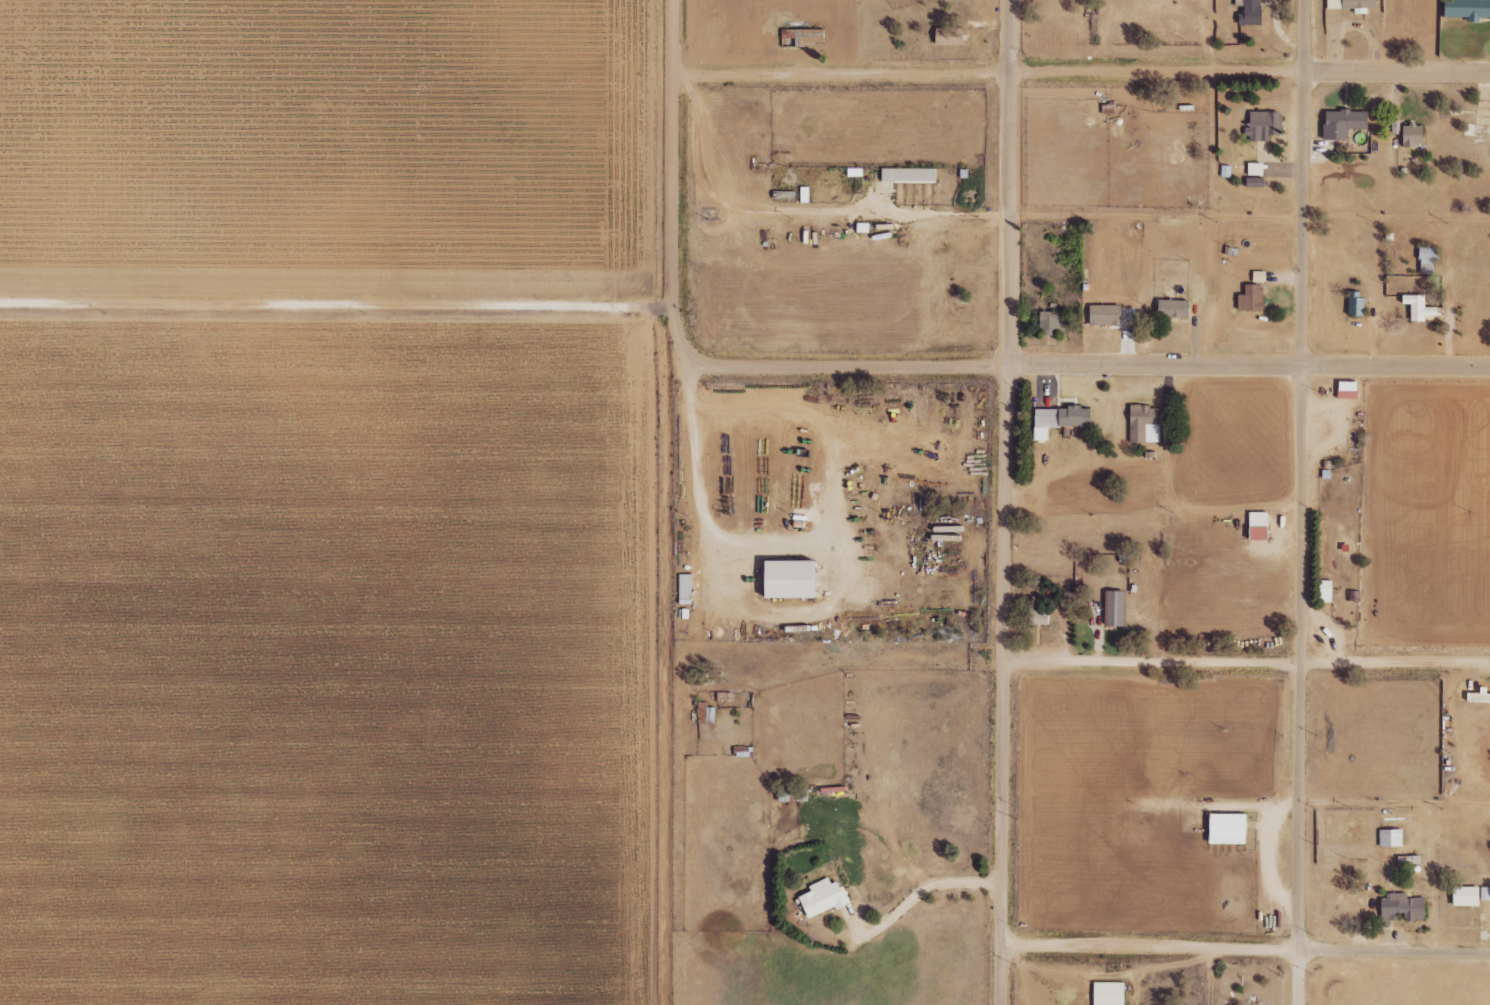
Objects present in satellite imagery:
building: (1354, 5)
building: (1469, 9)
building: (1251, 12)
building: (951, 36)
building: (803, 37)
road: (1082, 69)
building: (1344, 123)
building: (1264, 125)
building: (1414, 135)
building: (1256, 169)
building: (909, 175)
road: (673, 181)
building: (1255, 182)
building: (805, 194)
building: (787, 195)
building: (864, 227)
building: (1428, 260)
building: (1252, 298)
building: (1356, 304)
road: (336, 305)
building: (1420, 307)
building: (1174, 309)
building: (1106, 315)
building: (1053, 321)
road: (1084, 362)
building: (1349, 390)
building: (1061, 420)
building: (1146, 424)
road: (1006, 502)
road: (1300, 502)
building: (1260, 526)
building: (794, 579)
building: (686, 586)
building: (1115, 608)
building: (1040, 615)
road: (1246, 662)
building: (1479, 696)
building: (794, 794)
road: (1394, 804)
building: (1230, 828)
building: (1391, 837)
road: (923, 889)
building: (1471, 895)
building: (825, 897)
building: (1402, 907)
road: (1246, 949)
park: (1401, 983)
building: (1110, 993)

